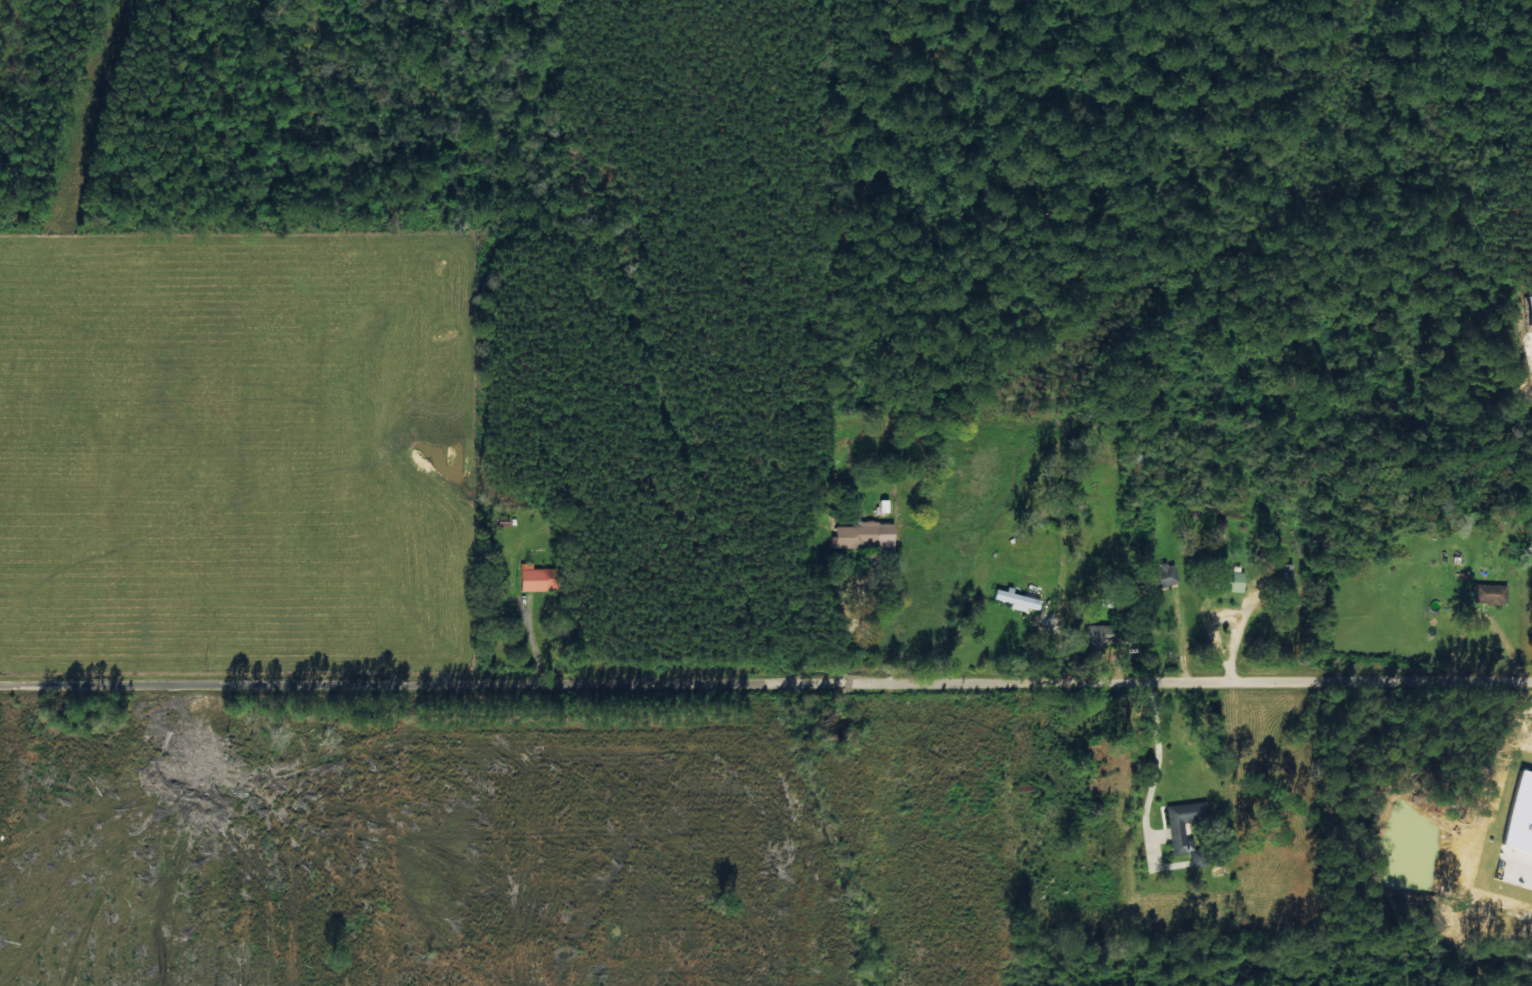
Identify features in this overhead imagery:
building: (1527, 313)
building: (863, 535)
road: (549, 559)
building: (530, 577)
building: (1226, 580)
building: (1485, 592)
building: (1012, 598)
road: (766, 687)
building: (1172, 829)

